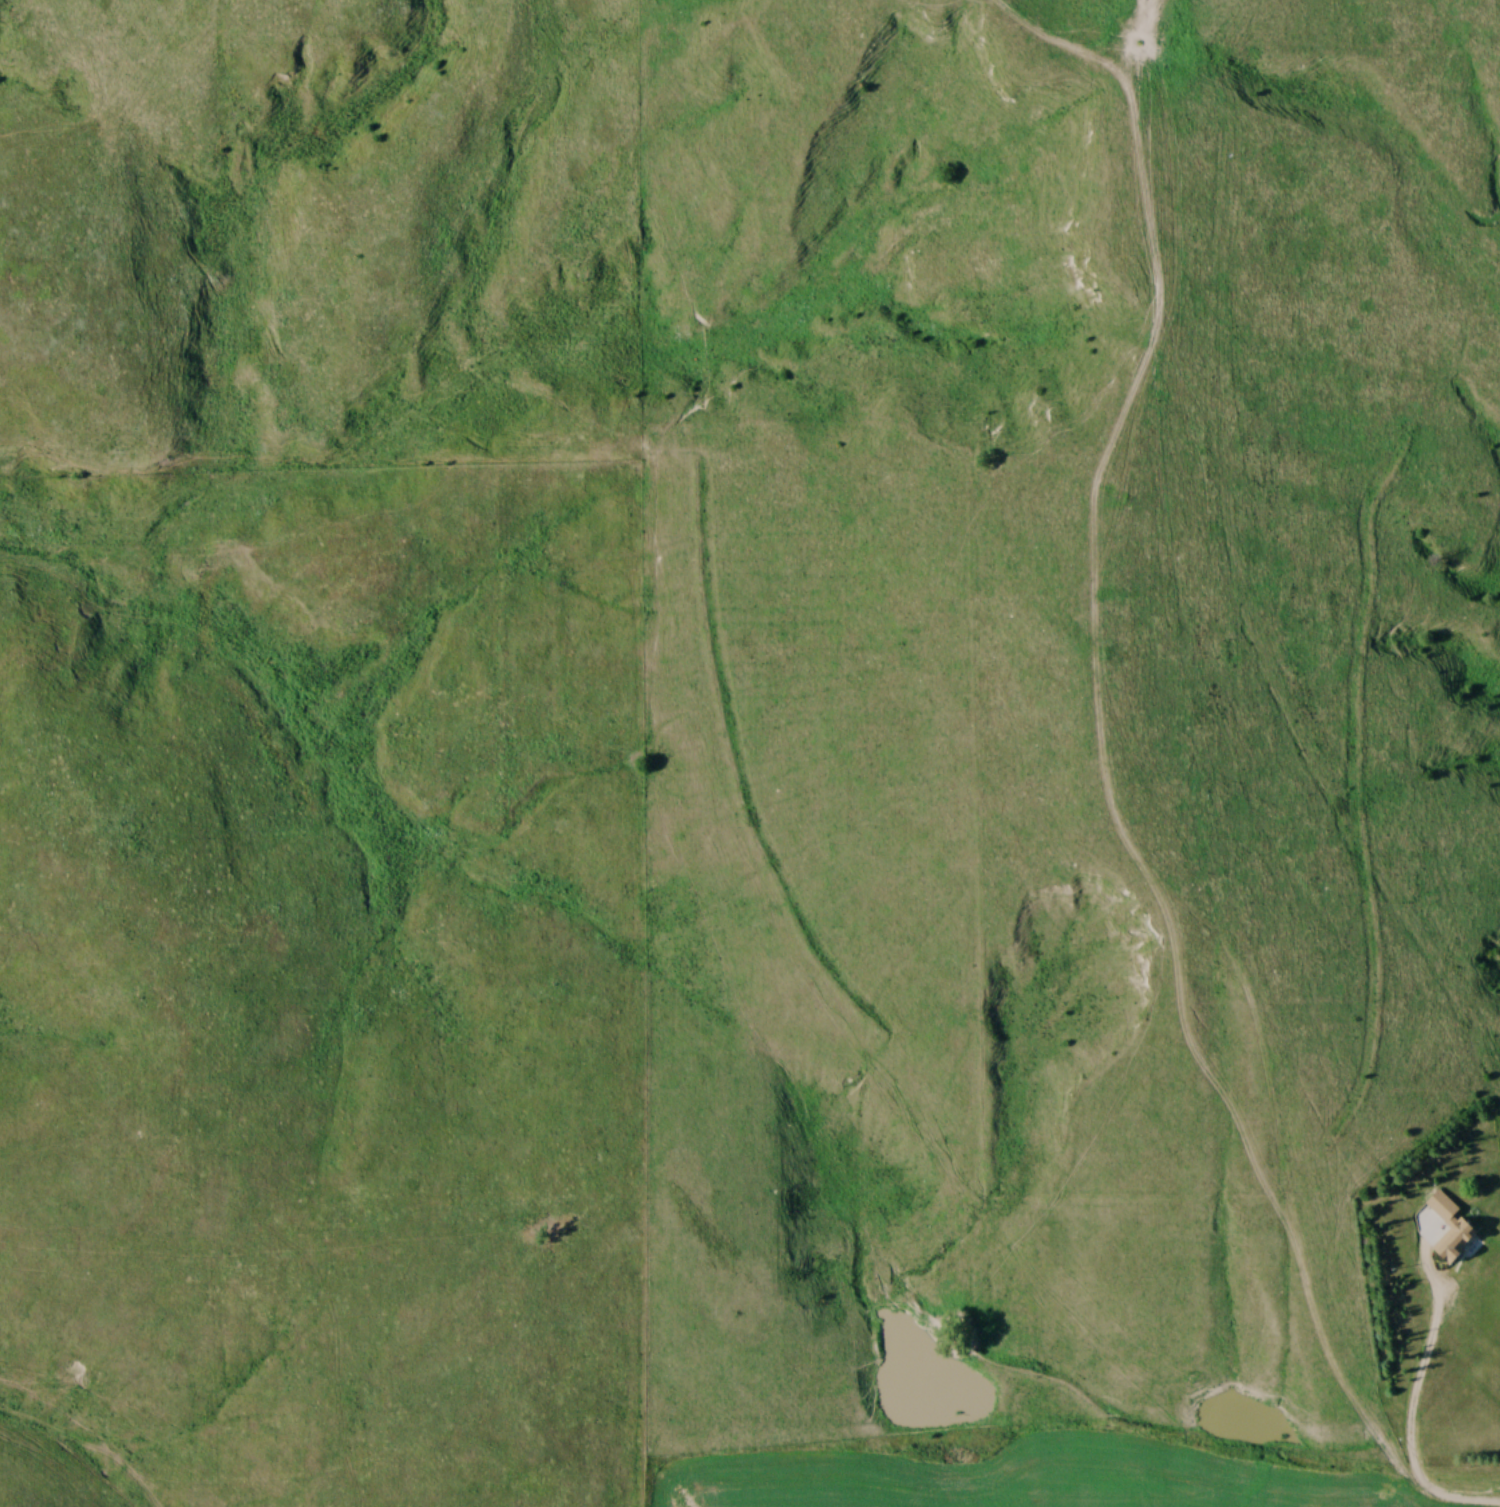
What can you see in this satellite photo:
building: (1450, 1230)
road: (1412, 1420)

